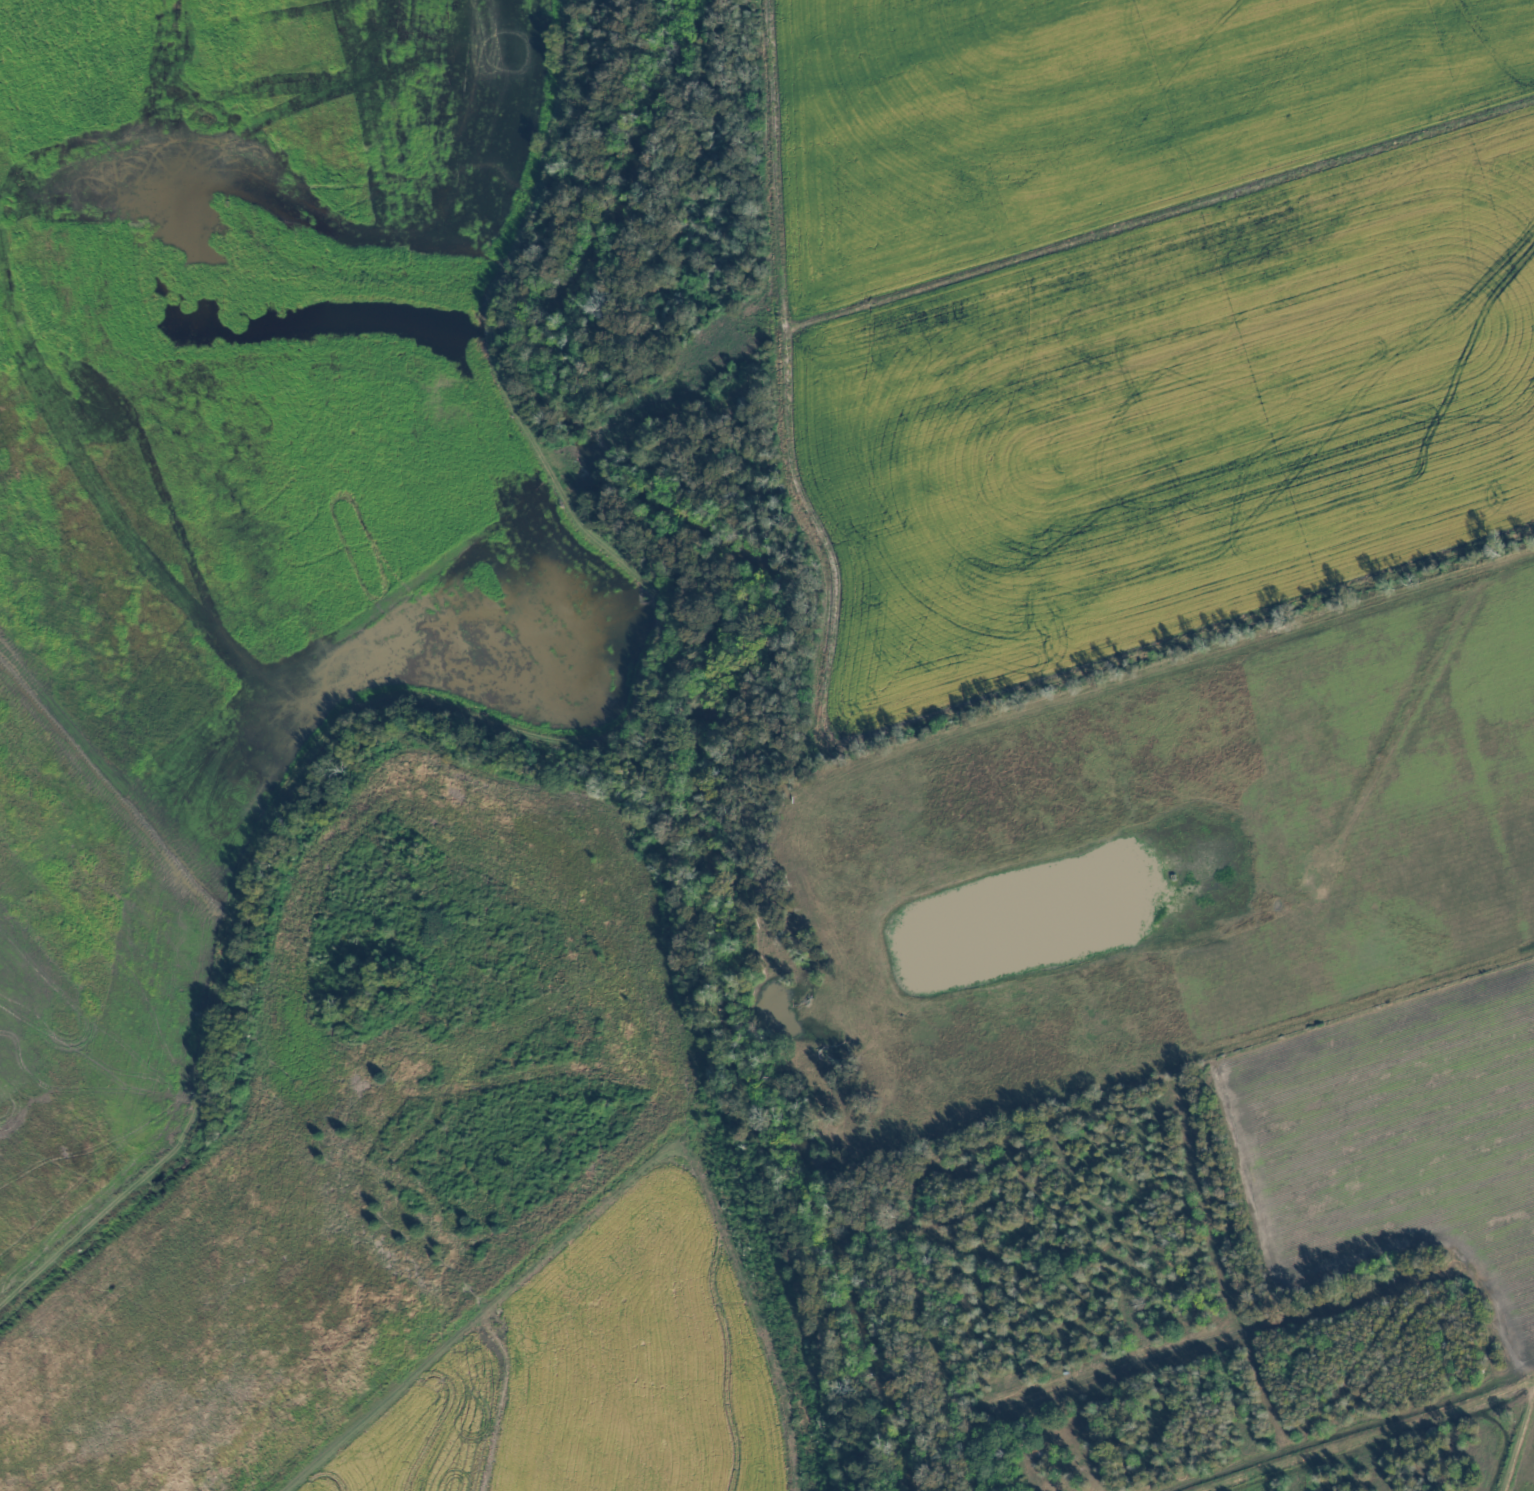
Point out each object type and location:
road: (1398, 739)

